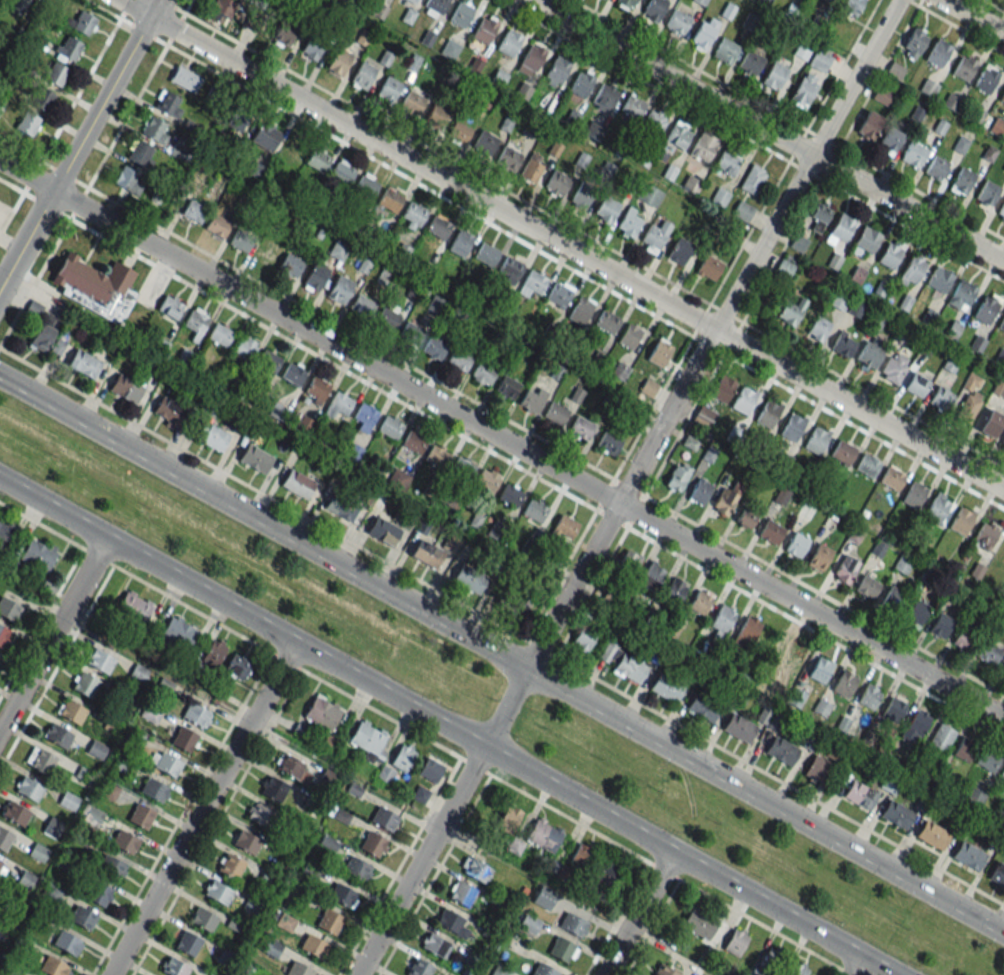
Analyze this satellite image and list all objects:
building: (828, 0)
building: (411, 1)
building: (628, 2)
building: (700, 2)
building: (17, 5)
road: (993, 5)
building: (851, 6)
building: (434, 7)
building: (222, 8)
building: (654, 8)
road: (101, 9)
road: (124, 9)
building: (460, 14)
road: (974, 16)
building: (677, 22)
building: (82, 23)
road: (956, 26)
building: (484, 29)
building: (703, 33)
building: (917, 40)
building: (509, 42)
road: (105, 43)
building: (68, 47)
building: (313, 50)
building: (725, 51)
building: (802, 51)
building: (937, 54)
building: (530, 60)
building: (819, 60)
building: (338, 62)
building: (750, 62)
building: (964, 67)
building: (894, 70)
building: (53, 71)
building: (556, 71)
building: (774, 75)
building: (362, 76)
building: (184, 78)
building: (985, 80)
building: (581, 84)
building: (928, 87)
building: (804, 88)
building: (388, 89)
building: (882, 95)
building: (1001, 96)
building: (604, 97)
building: (42, 98)
building: (952, 101)
building: (412, 102)
building: (169, 104)
building: (631, 108)
building: (916, 114)
building: (436, 115)
building: (977, 116)
building: (233, 118)
building: (653, 122)
building: (27, 123)
building: (870, 123)
building: (940, 126)
building: (997, 127)
building: (154, 129)
road: (768, 131)
building: (458, 133)
building: (678, 135)
building: (265, 136)
building: (891, 139)
road: (79, 143)
building: (484, 143)
building: (960, 145)
building: (703, 146)
building: (290, 148)
road: (434, 151)
road: (793, 151)
building: (912, 153)
building: (988, 153)
building: (141, 154)
building: (508, 158)
building: (317, 159)
road: (830, 160)
building: (727, 161)
road: (36, 167)
building: (935, 167)
building: (532, 168)
building: (1003, 169)
building: (256, 171)
building: (343, 171)
building: (752, 179)
building: (962, 179)
building: (129, 180)
building: (556, 183)
building: (366, 186)
road: (429, 190)
road: (921, 192)
building: (987, 192)
building: (649, 195)
building: (719, 196)
building: (580, 197)
building: (387, 203)
building: (605, 209)
building: (1001, 210)
building: (193, 211)
building: (742, 211)
road: (11, 213)
building: (412, 215)
building: (818, 216)
building: (629, 223)
building: (217, 226)
building: (437, 227)
building: (839, 230)
building: (654, 237)
building: (242, 239)
building: (460, 242)
building: (865, 242)
road: (563, 243)
building: (266, 251)
building: (337, 251)
building: (679, 251)
building: (890, 253)
building: (486, 254)
building: (289, 265)
building: (708, 267)
building: (784, 268)
building: (510, 269)
building: (912, 270)
building: (314, 276)
building: (385, 277)
building: (938, 280)
building: (534, 282)
building: (96, 286)
building: (339, 289)
building: (961, 294)
building: (557, 296)
building: (838, 300)
building: (171, 306)
building: (362, 306)
building: (855, 308)
building: (580, 309)
building: (985, 309)
building: (790, 311)
building: (387, 317)
building: (606, 321)
building: (196, 323)
building: (1001, 323)
road: (696, 328)
building: (818, 329)
building: (43, 334)
building: (220, 334)
building: (410, 334)
building: (629, 335)
building: (843, 344)
building: (435, 347)
building: (242, 351)
building: (659, 353)
building: (870, 353)
road: (397, 358)
road: (324, 359)
building: (459, 360)
building: (268, 362)
building: (84, 364)
building: (893, 367)
building: (483, 372)
building: (293, 373)
building: (916, 385)
building: (507, 386)
building: (126, 387)
building: (722, 388)
building: (999, 389)
building: (315, 390)
building: (940, 397)
building: (532, 399)
building: (744, 400)
building: (968, 403)
building: (338, 404)
building: (278, 411)
building: (169, 412)
building: (555, 413)
building: (768, 414)
building: (363, 417)
building: (703, 417)
building: (991, 423)
building: (390, 427)
building: (792, 427)
building: (581, 428)
building: (211, 437)
road: (501, 440)
building: (816, 440)
building: (608, 443)
building: (1002, 443)
building: (410, 444)
building: (842, 452)
building: (436, 456)
building: (255, 459)
building: (867, 465)
building: (462, 469)
building: (678, 476)
building: (890, 478)
building: (397, 480)
building: (486, 480)
building: (298, 484)
road: (628, 487)
building: (699, 491)
building: (510, 495)
building: (914, 495)
building: (724, 501)
building: (340, 507)
building: (936, 509)
building: (534, 510)
building: (806, 510)
building: (745, 518)
building: (961, 521)
building: (565, 527)
building: (383, 531)
building: (4, 532)
building: (770, 532)
building: (985, 535)
building: (797, 544)
building: (435, 550)
building: (1001, 552)
building: (38, 554)
building: (819, 557)
building: (628, 563)
building: (846, 569)
building: (651, 575)
building: (468, 579)
road: (808, 586)
building: (867, 586)
building: (674, 591)
building: (892, 599)
building: (700, 601)
building: (515, 603)
building: (135, 606)
building: (9, 610)
building: (916, 613)
road: (40, 620)
building: (721, 622)
road: (800, 623)
building: (941, 625)
road: (501, 627)
road: (230, 629)
building: (179, 632)
building: (746, 632)
building: (3, 634)
road: (53, 634)
building: (963, 638)
building: (582, 639)
building: (214, 652)
building: (608, 653)
building: (988, 653)
road: (502, 655)
building: (789, 657)
building: (99, 660)
road: (55, 664)
building: (237, 667)
building: (629, 668)
building: (820, 669)
building: (1002, 670)
building: (85, 683)
building: (843, 684)
building: (666, 687)
building: (868, 697)
building: (703, 707)
building: (893, 710)
building: (72, 712)
building: (322, 712)
building: (196, 714)
building: (917, 723)
road: (446, 726)
building: (739, 727)
building: (941, 736)
building: (58, 737)
building: (184, 739)
building: (368, 740)
building: (963, 749)
building: (96, 750)
building: (781, 750)
building: (403, 757)
building: (987, 759)
building: (40, 760)
building: (121, 764)
building: (168, 764)
building: (292, 768)
building: (816, 768)
building: (430, 769)
building: (1002, 774)
building: (272, 788)
building: (29, 789)
building: (109, 790)
building: (153, 790)
building: (859, 794)
building: (974, 796)
road: (203, 809)
building: (16, 813)
road: (180, 813)
building: (258, 813)
building: (895, 814)
building: (141, 815)
building: (384, 818)
road: (570, 818)
building: (508, 819)
road: (214, 822)
building: (52, 827)
building: (544, 835)
building: (932, 835)
building: (4, 839)
building: (125, 842)
building: (246, 842)
building: (372, 844)
building: (38, 852)
building: (968, 855)
building: (581, 856)
building: (0, 864)
building: (230, 866)
road: (399, 866)
building: (111, 867)
building: (357, 868)
building: (475, 869)
building: (607, 870)
building: (997, 873)
road: (434, 874)
building: (26, 880)
building: (50, 892)
building: (97, 892)
building: (217, 892)
building: (461, 893)
building: (342, 895)
building: (543, 897)
road: (718, 902)
road: (639, 914)
building: (82, 917)
road: (617, 918)
building: (204, 919)
building: (329, 921)
building: (286, 922)
building: (450, 922)
building: (529, 923)
building: (699, 923)
building: (572, 925)
building: (736, 939)
building: (66, 943)
building: (187, 943)
building: (314, 946)
building: (436, 946)
building: (272, 948)
building: (562, 950)
building: (772, 958)
road: (857, 966)
building: (53, 967)
building: (175, 967)
building: (418, 967)
building: (298, 969)
building: (798, 969)
building: (543, 970)
building: (664, 970)
building: (500, 971)
road: (834, 971)

